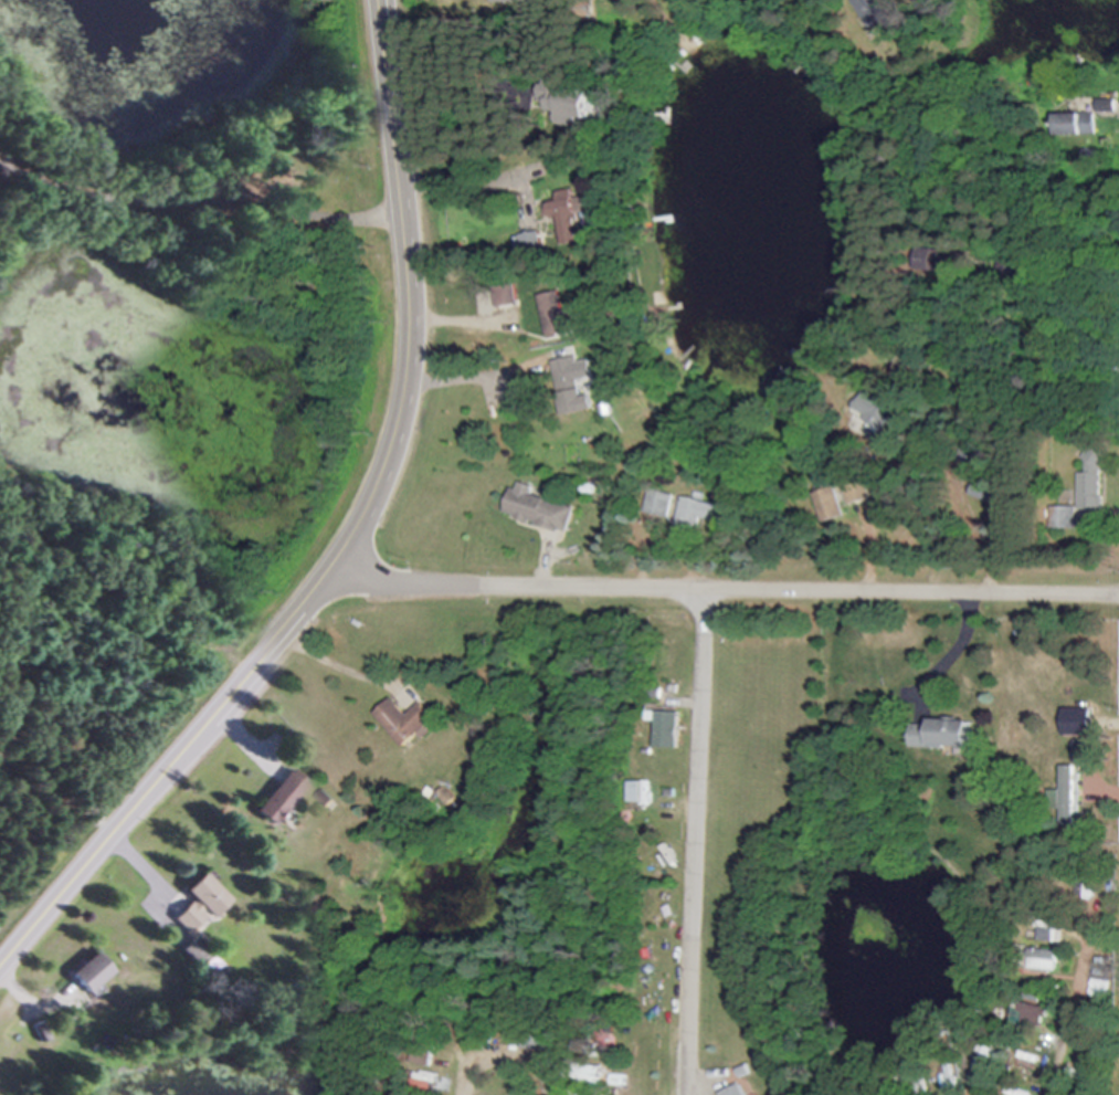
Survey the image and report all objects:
building: (873, 11)
building: (568, 103)
building: (1104, 106)
road: (448, 122)
building: (1064, 124)
road: (196, 203)
building: (567, 218)
road: (511, 235)
building: (531, 243)
road: (1057, 288)
building: (552, 312)
building: (522, 390)
building: (574, 401)
building: (876, 411)
building: (972, 455)
building: (1088, 482)
building: (658, 504)
road: (968, 506)
building: (537, 509)
building: (697, 513)
building: (1059, 517)
road: (351, 538)
road: (721, 591)
road: (944, 654)
building: (404, 720)
building: (665, 729)
building: (937, 734)
building: (1085, 751)
building: (637, 792)
building: (1063, 796)
building: (274, 797)
road: (695, 843)
building: (192, 904)
building: (646, 946)
building: (1039, 960)
building: (83, 972)
building: (425, 1054)
building: (982, 1060)
building: (1024, 1060)
road: (509, 1064)
building: (424, 1084)
building: (733, 1092)
building: (574, 1093)

